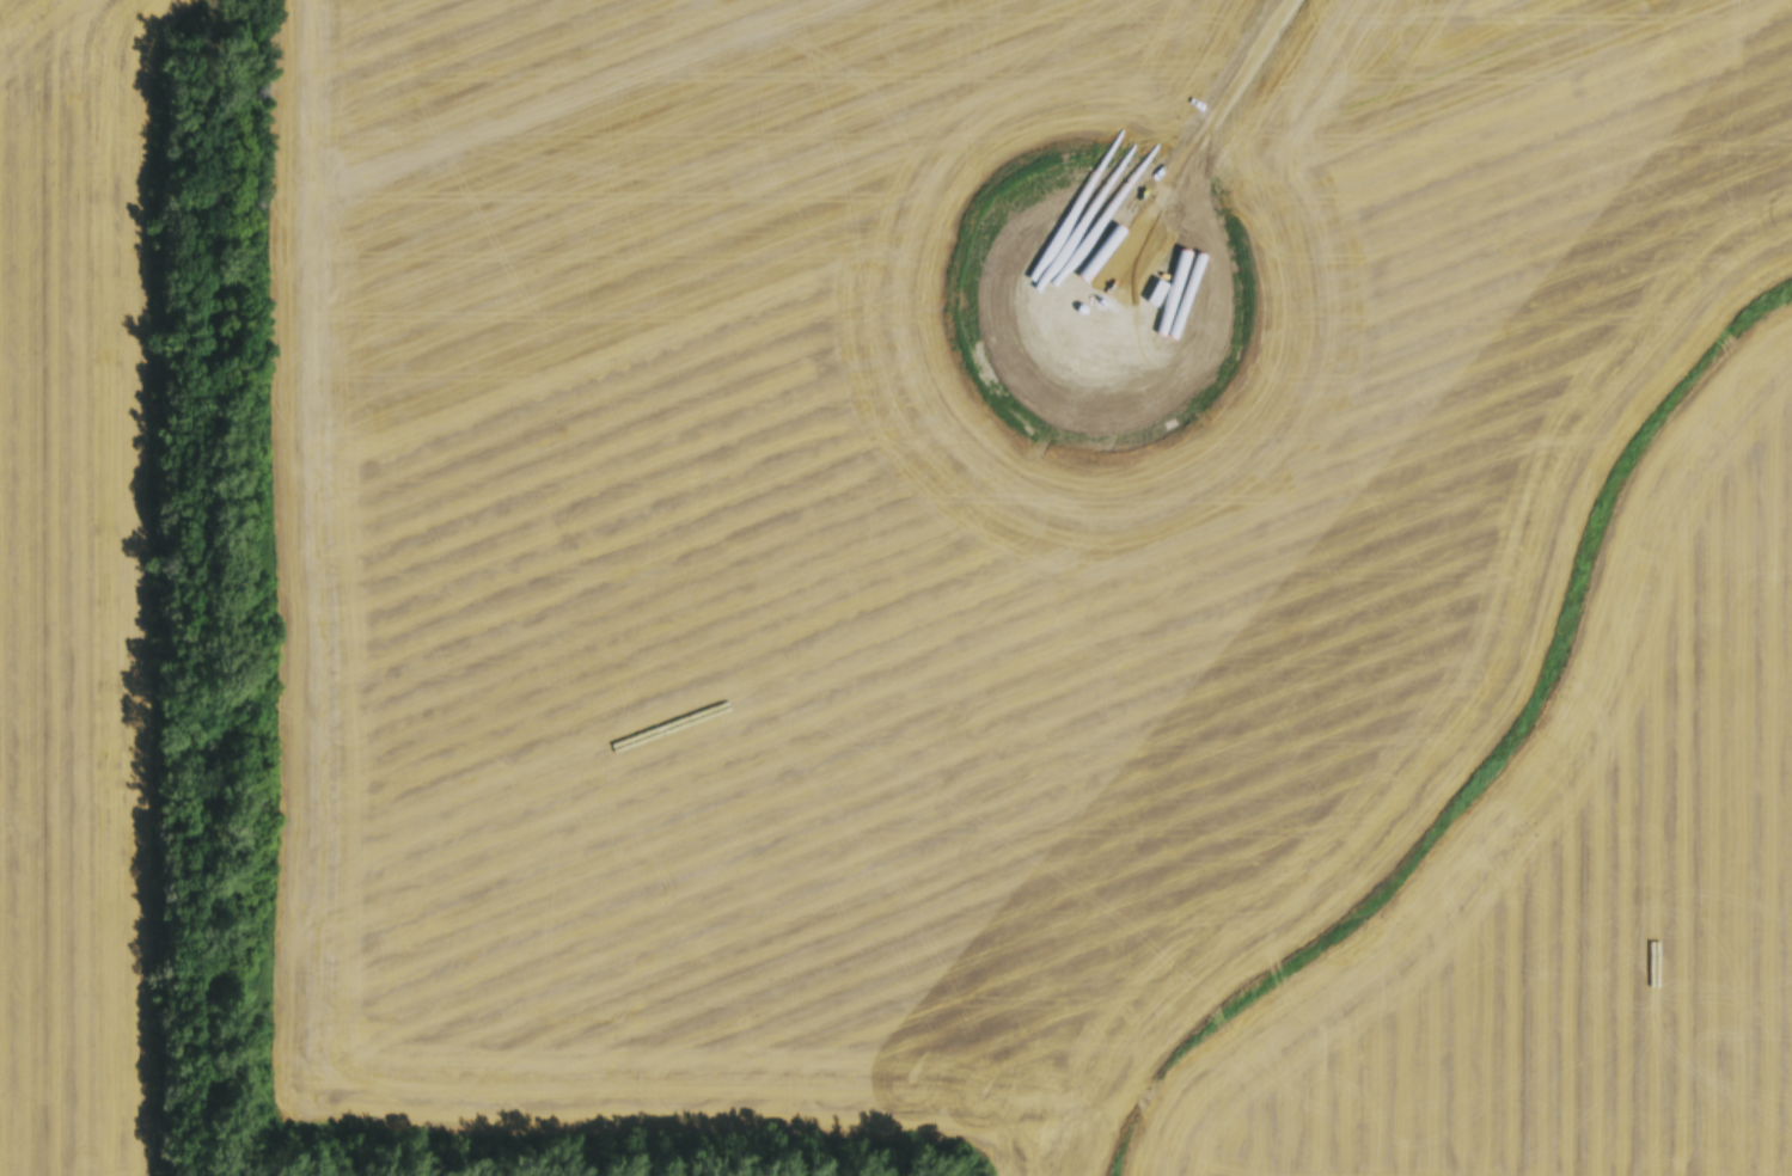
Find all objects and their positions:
wind turbine: (1095, 306)

